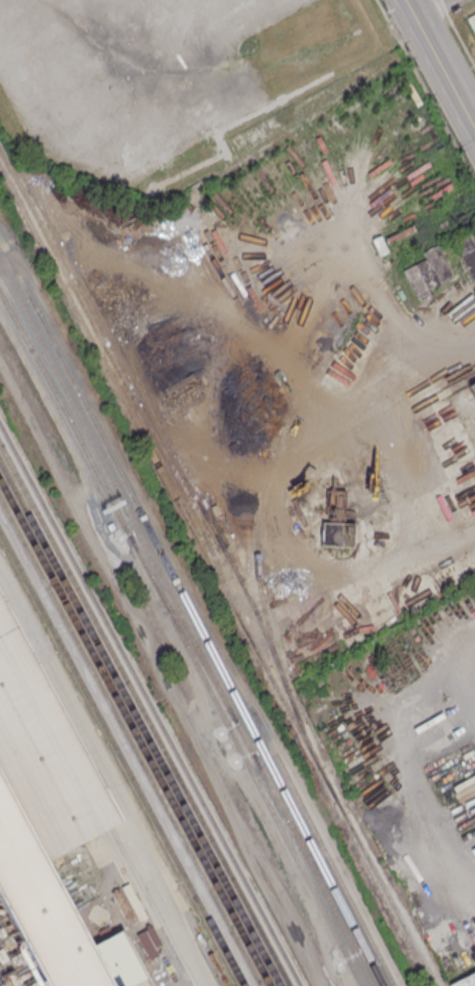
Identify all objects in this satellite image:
road: (426, 8)
building: (472, 22)
road: (439, 66)
road: (469, 110)
building: (199, 129)
building: (467, 251)
building: (430, 271)
road: (436, 358)
railway: (123, 378)
railway: (68, 395)
railway: (152, 416)
railway: (265, 484)
railway: (218, 575)
railway: (191, 614)
railway: (182, 628)
railway: (182, 639)
railway: (150, 705)
railway: (144, 715)
railway: (139, 724)
railway: (134, 733)
railway: (130, 742)
railway: (254, 757)
railway: (122, 758)
railway: (306, 816)
building: (43, 841)
railway: (307, 851)
road: (174, 914)
building: (466, 981)

